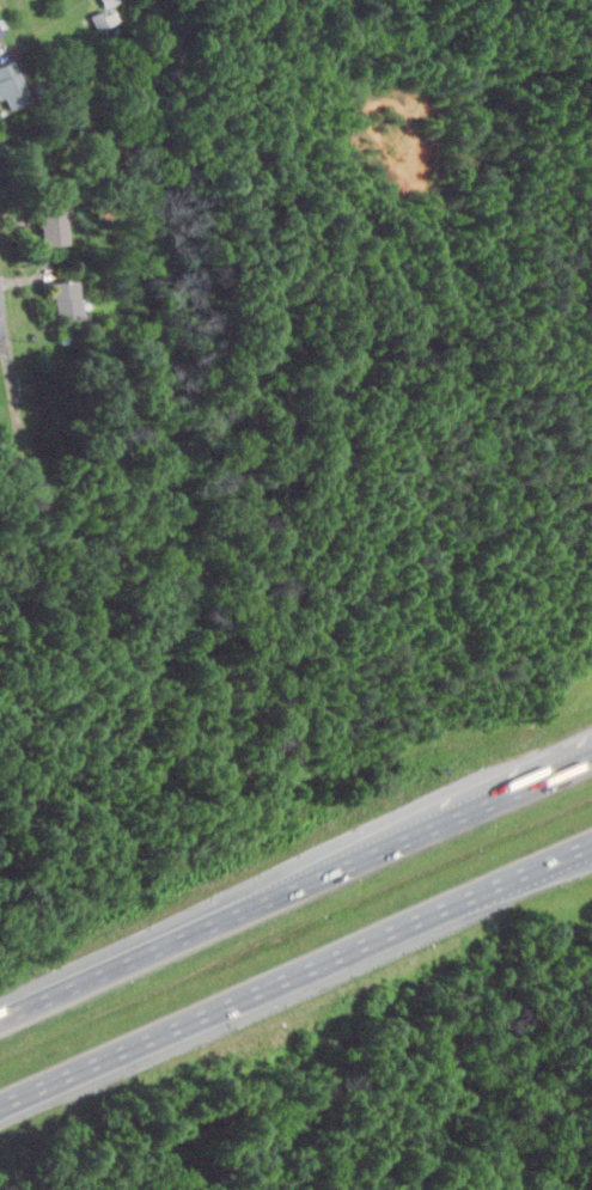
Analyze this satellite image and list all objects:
building: (110, 16)
building: (0, 33)
building: (11, 85)
building: (49, 227)
building: (63, 299)
road: (1, 324)
road: (16, 397)
river: (189, 434)
road: (295, 889)
river: (291, 941)
road: (295, 974)
river: (366, 1103)

